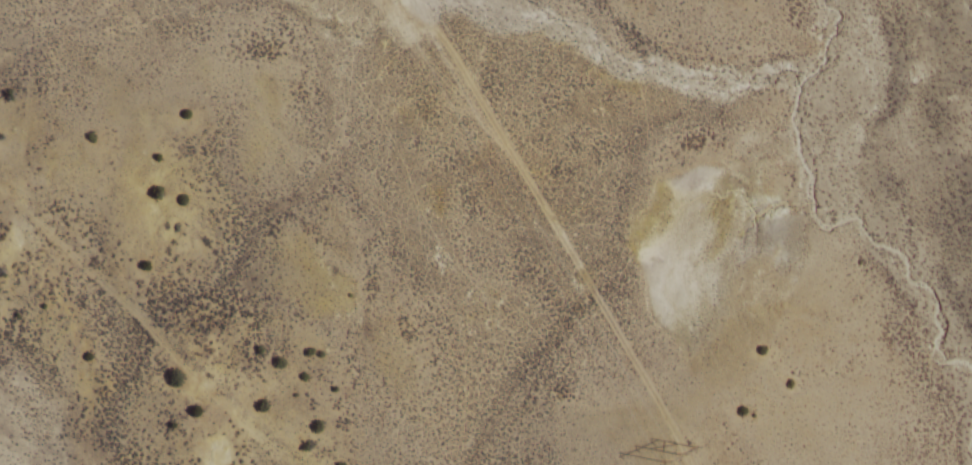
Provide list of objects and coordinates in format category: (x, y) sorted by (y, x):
power tower: (681, 458)

